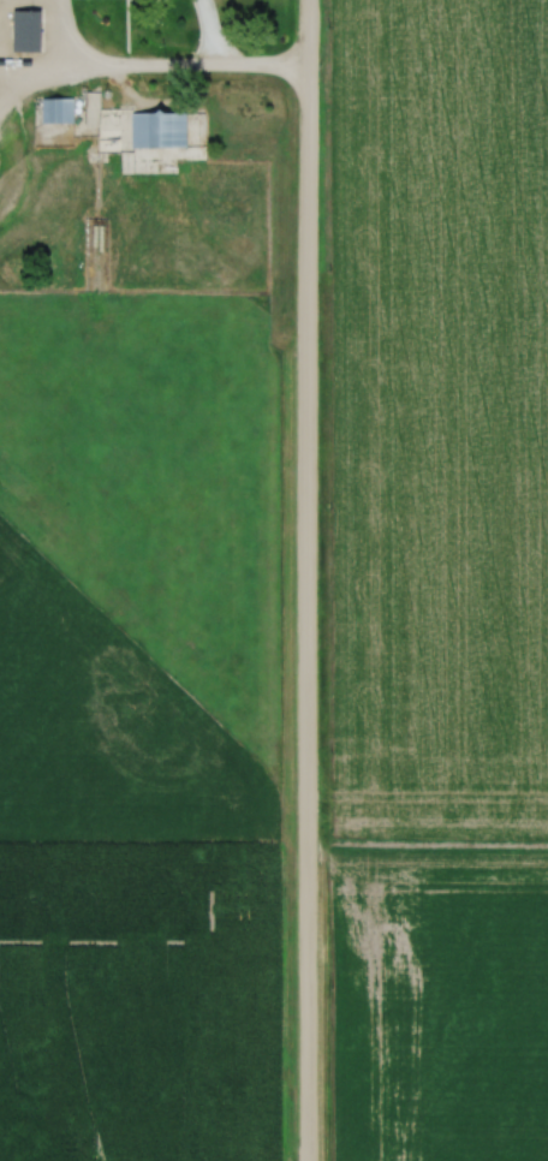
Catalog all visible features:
building: (22, 30)
road: (169, 71)
building: (54, 109)
building: (155, 127)
road: (305, 579)

